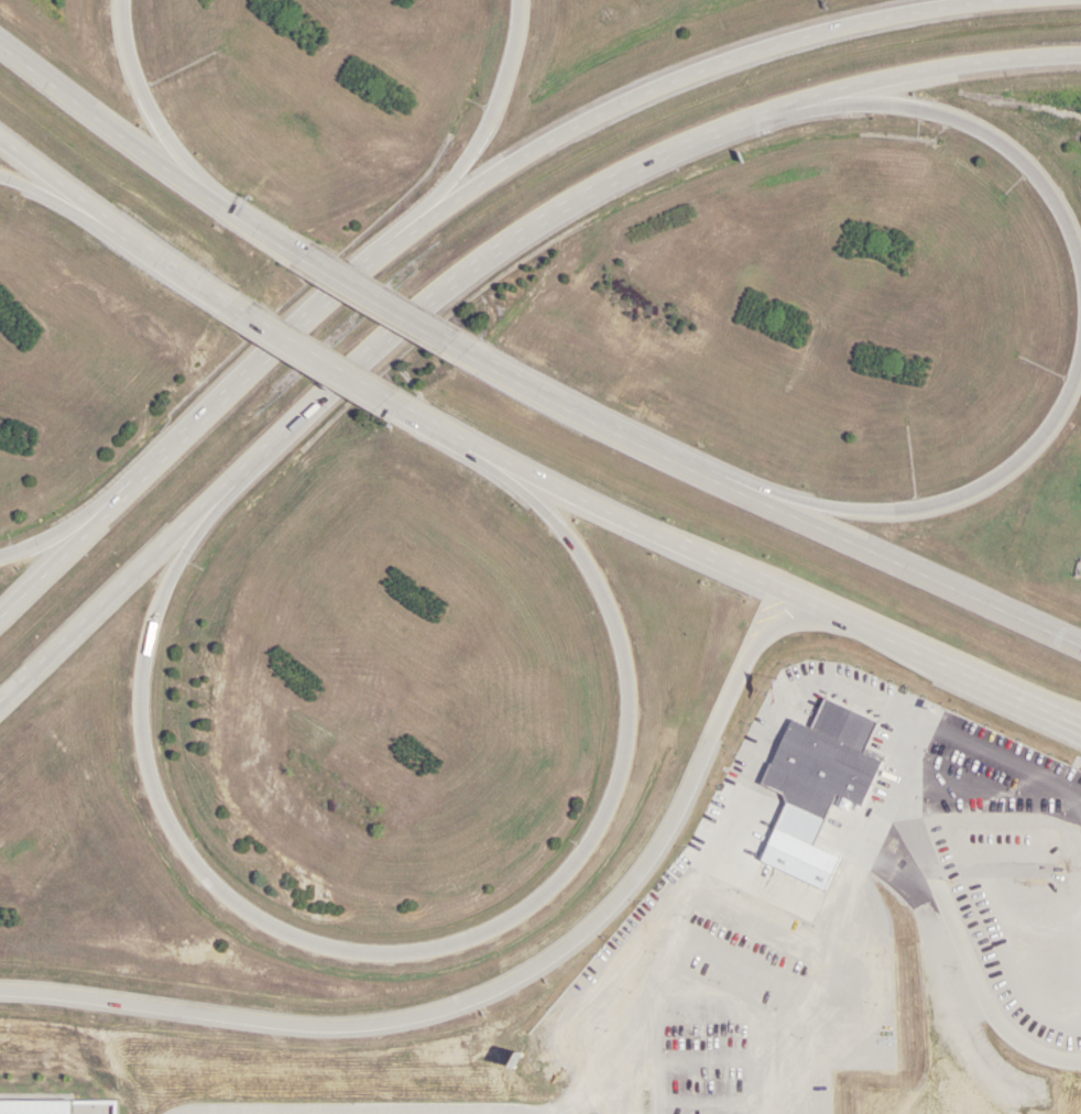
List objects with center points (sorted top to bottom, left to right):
road: (951, 68)
road: (144, 98)
road: (975, 121)
road: (490, 123)
road: (143, 151)
road: (490, 175)
road: (42, 190)
road: (116, 229)
road: (485, 256)
road: (376, 299)
road: (318, 359)
road: (605, 424)
road: (446, 433)
road: (942, 505)
road: (47, 543)
road: (47, 564)
road: (916, 570)
road: (754, 578)
road: (101, 599)
road: (1048, 705)
road: (1047, 718)
road: (1078, 733)
building: (829, 763)
road: (746, 785)
road: (950, 922)
building: (874, 946)
road: (416, 952)
road: (509, 983)
building: (844, 990)
road: (438, 1112)

